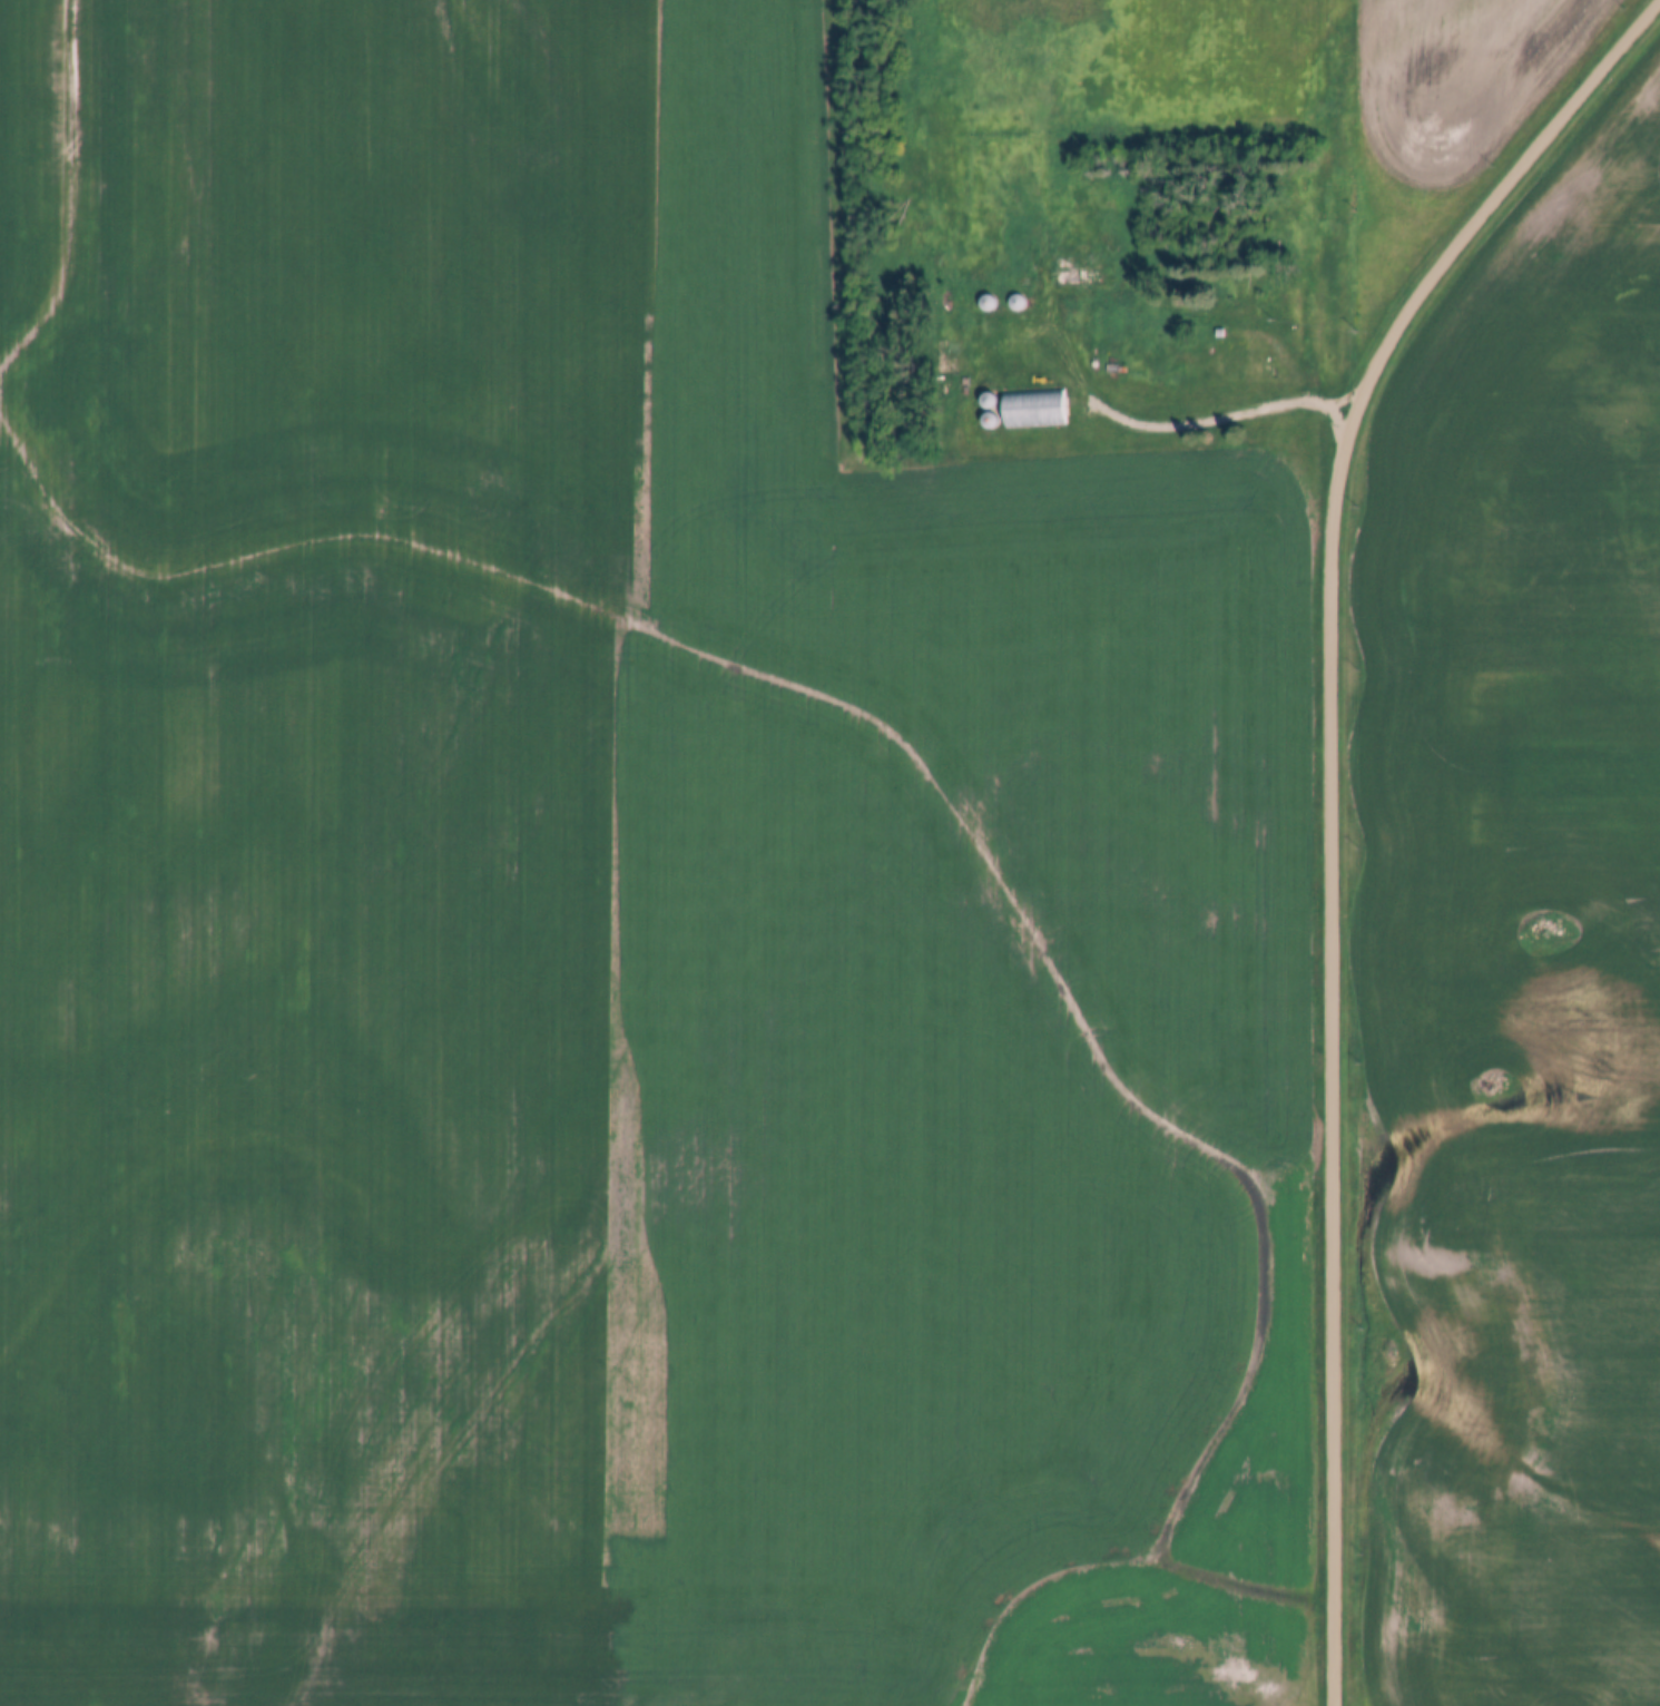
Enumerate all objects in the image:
building: (1075, 268)
building: (953, 354)
building: (1029, 400)
road: (1182, 425)
road: (1335, 800)

